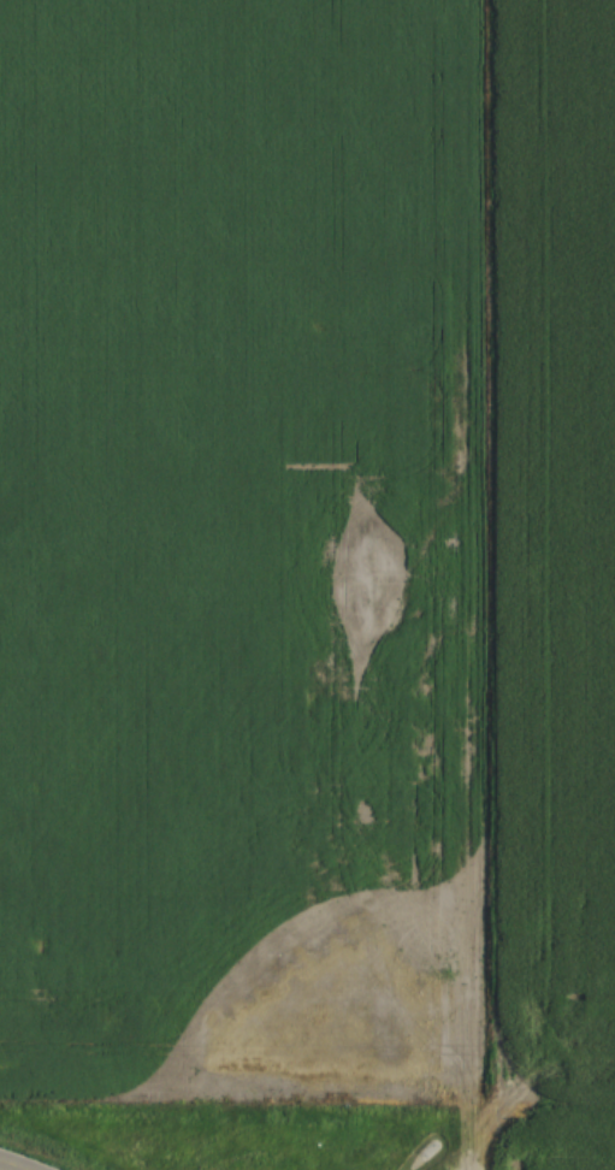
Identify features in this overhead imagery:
crop: (548, 1130)
road: (30, 1158)

